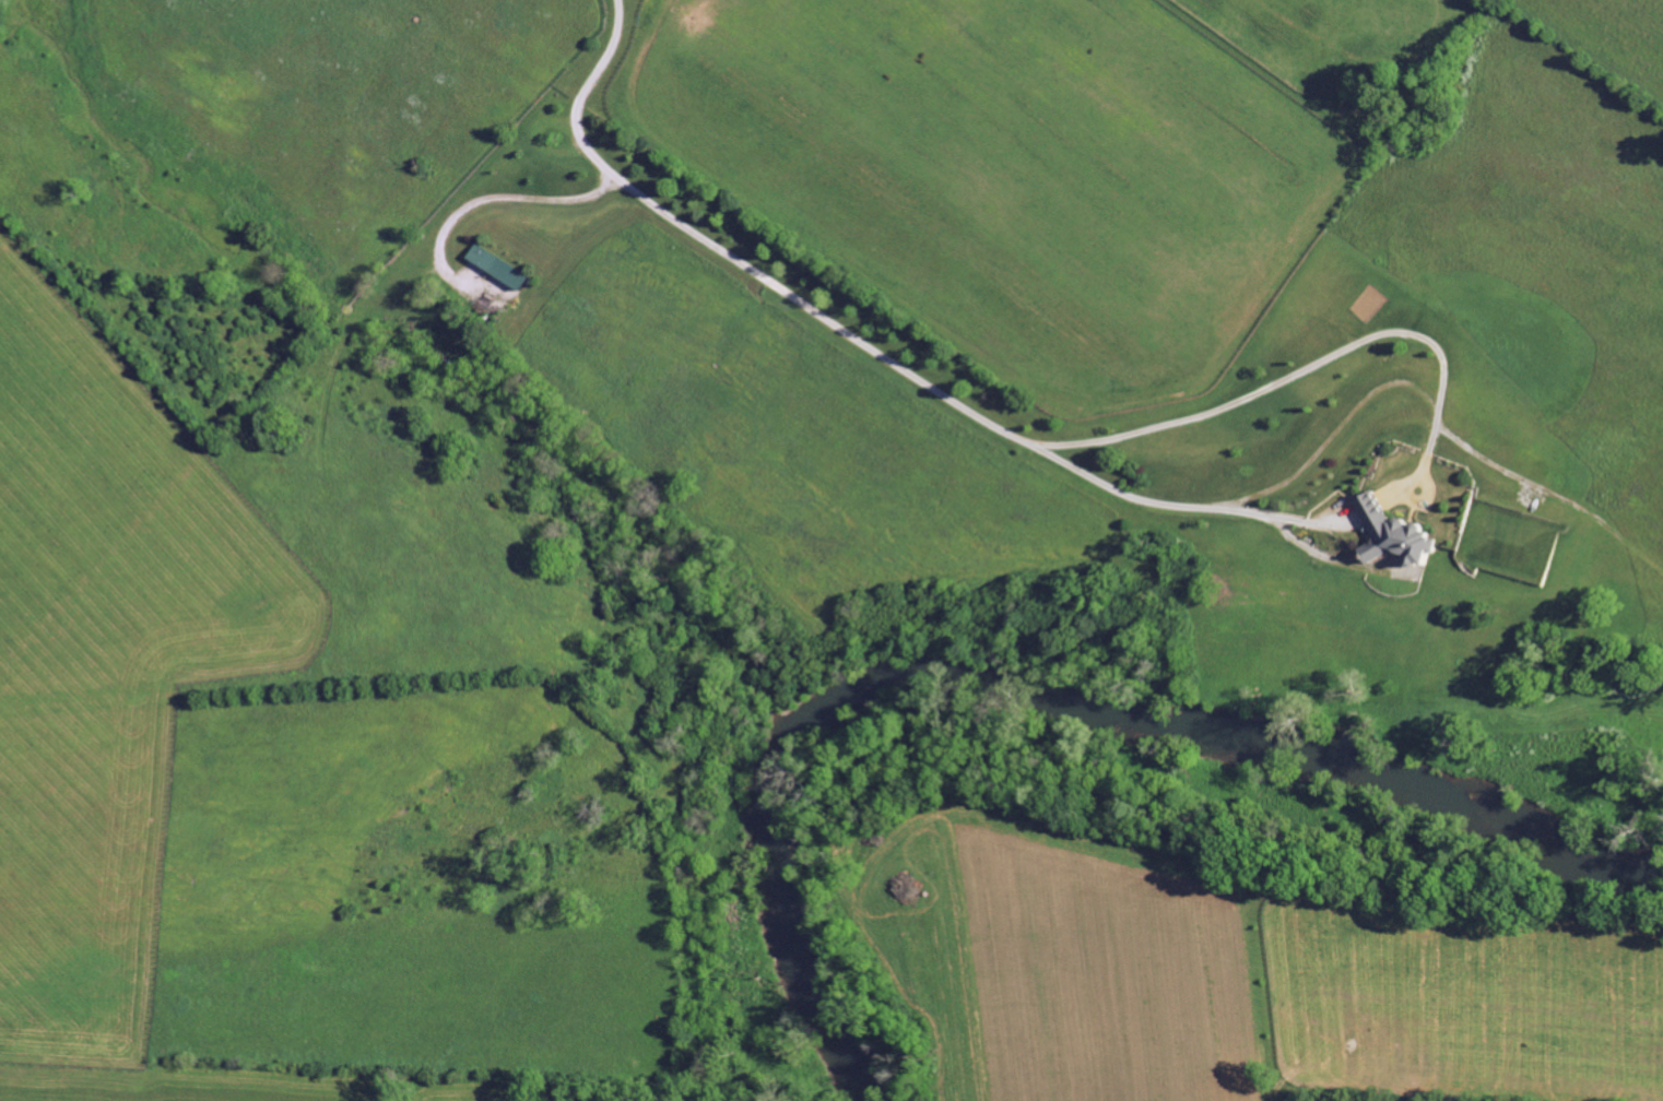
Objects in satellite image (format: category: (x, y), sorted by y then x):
road: (496, 199)
building: (499, 268)
road: (980, 418)
road: (1187, 508)
building: (1402, 536)

